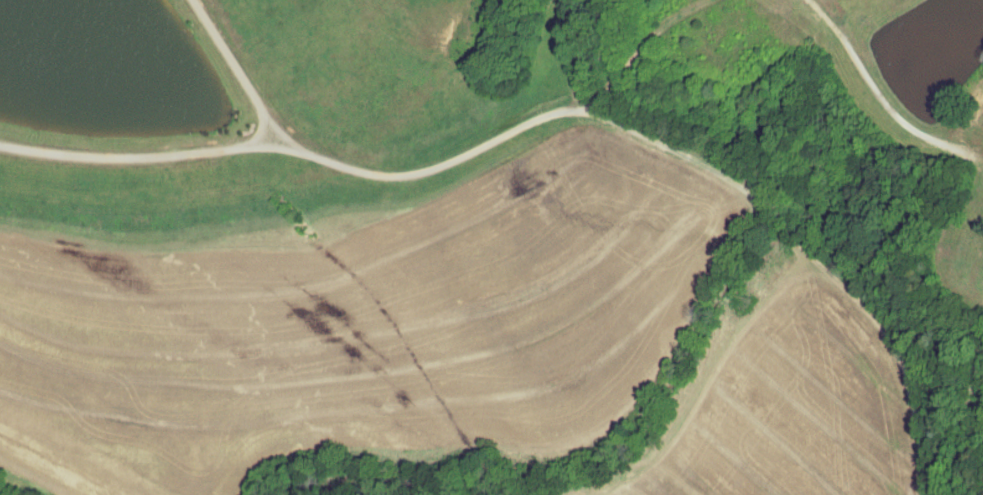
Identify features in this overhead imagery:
road: (611, 122)
road: (140, 159)
road: (722, 377)
road: (966, 417)
road: (26, 481)

